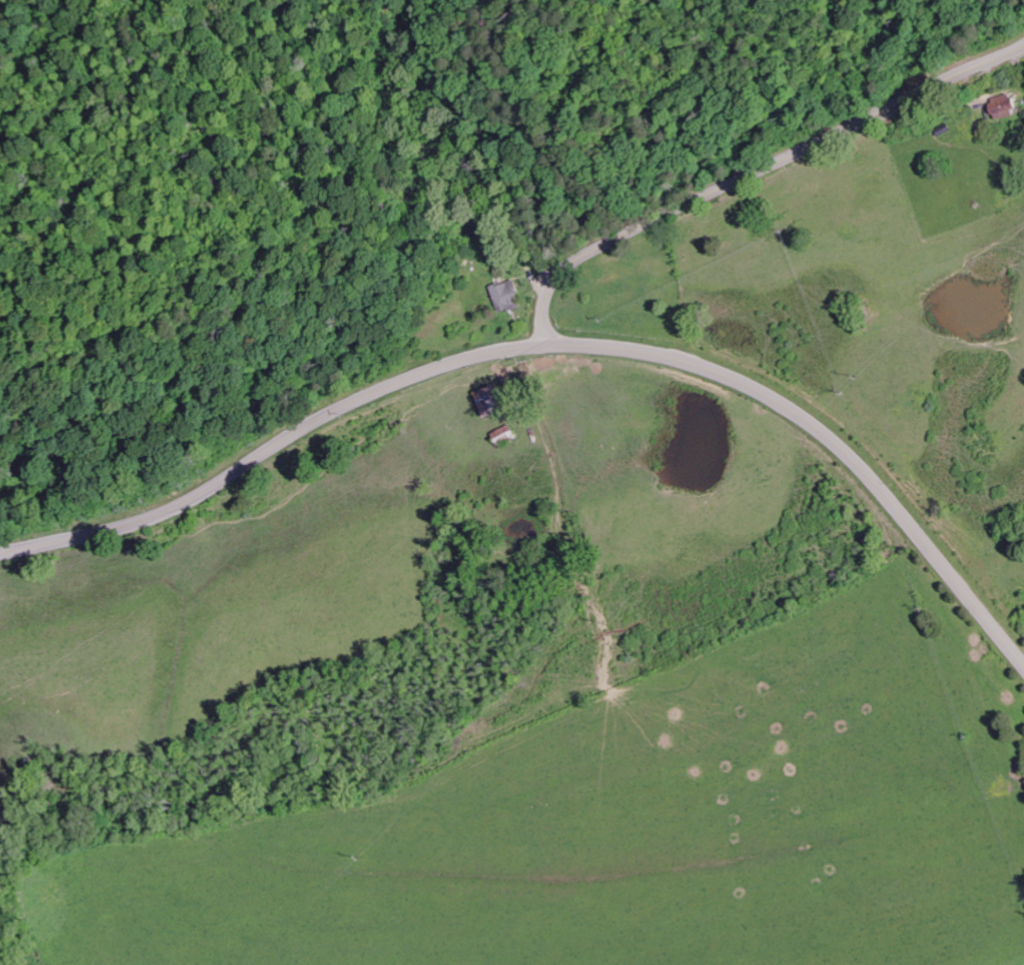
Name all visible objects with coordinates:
building: (1006, 106)
road: (755, 174)
building: (507, 296)
road: (551, 347)
building: (490, 402)

